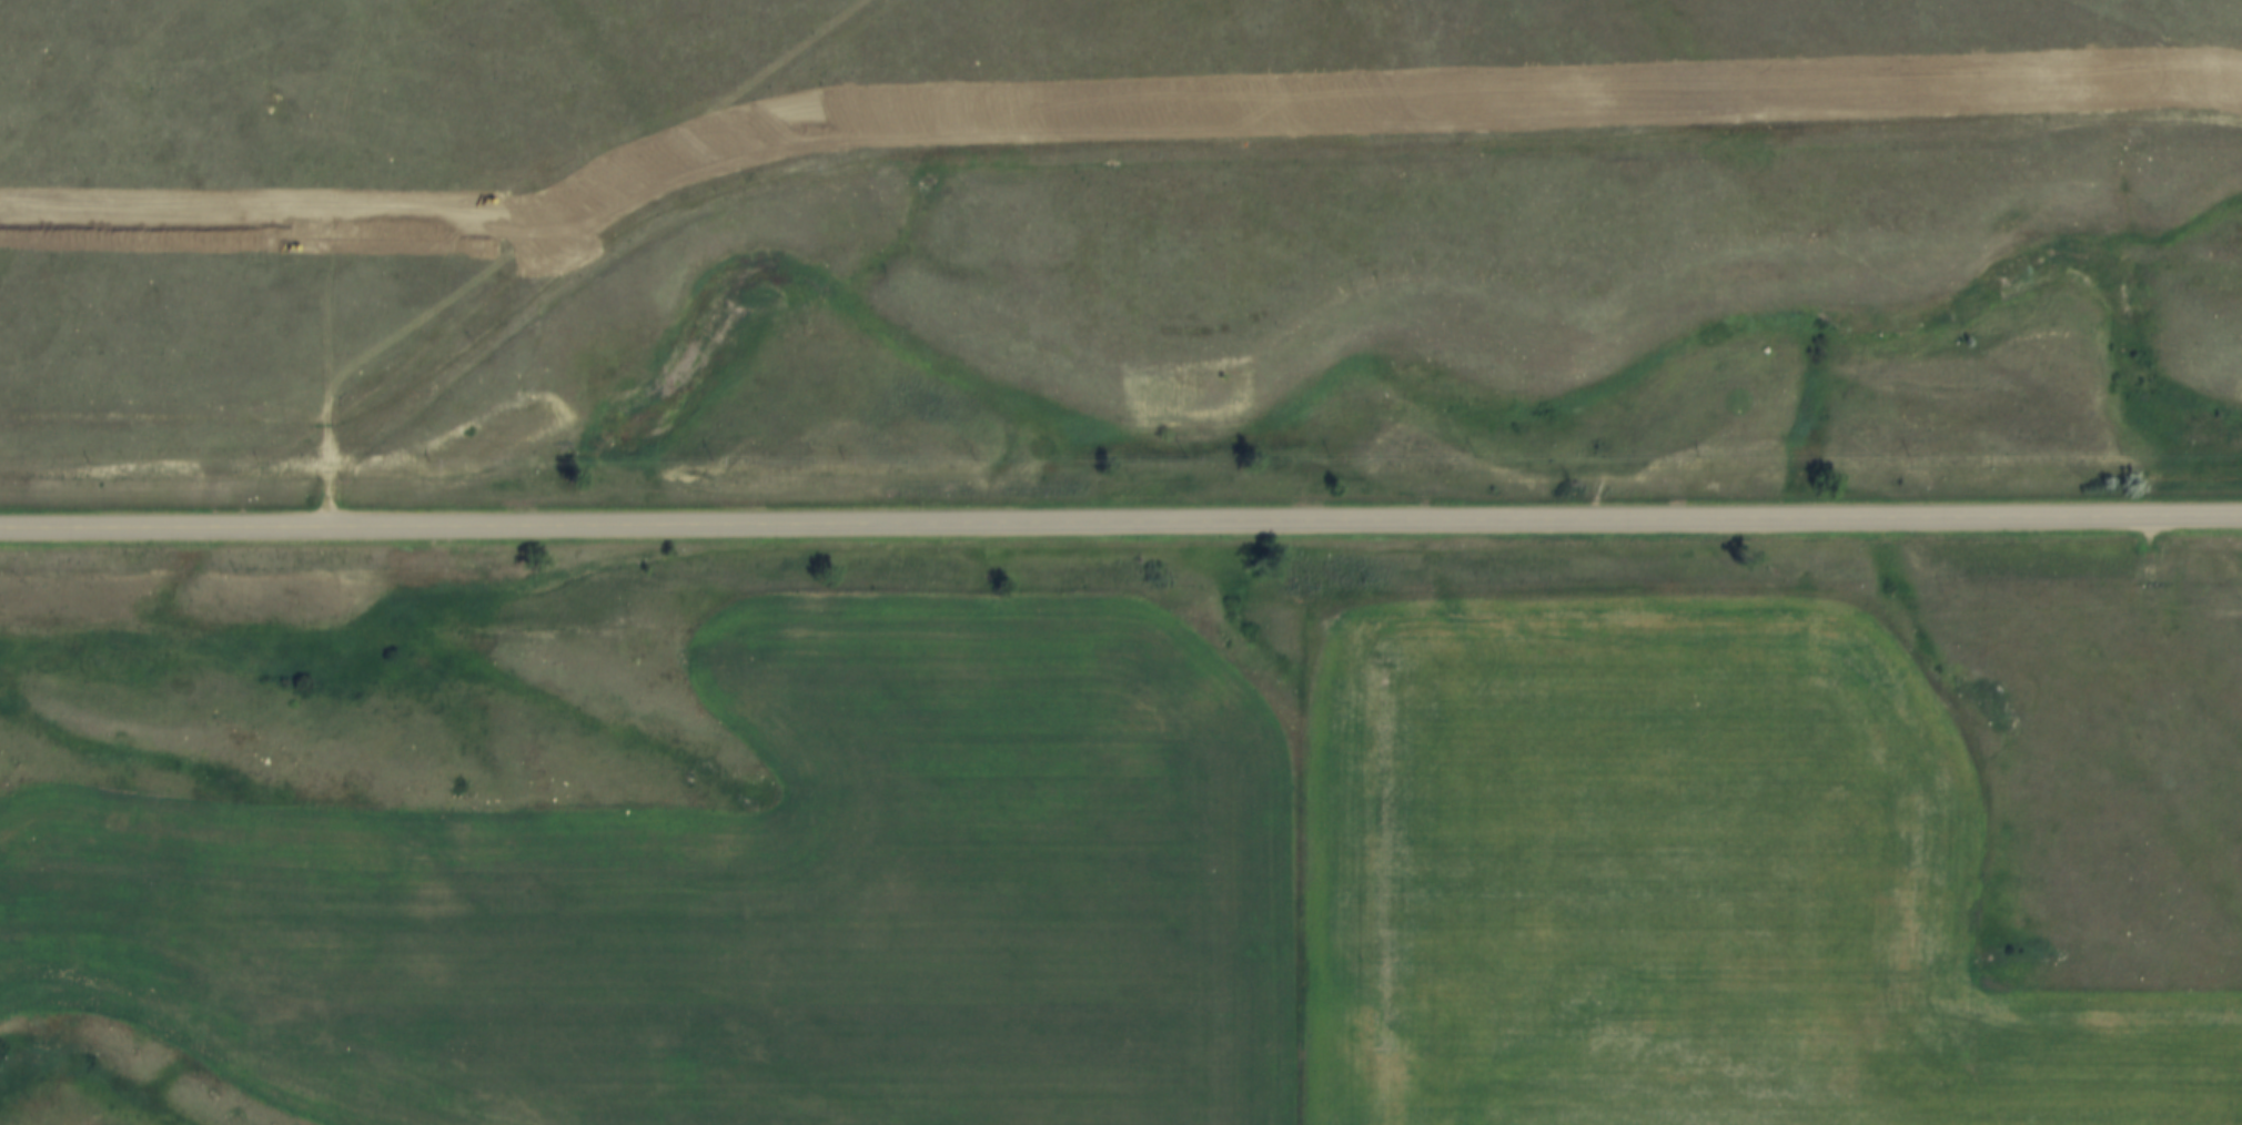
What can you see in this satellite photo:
road: (329, 259)
road: (1120, 518)

